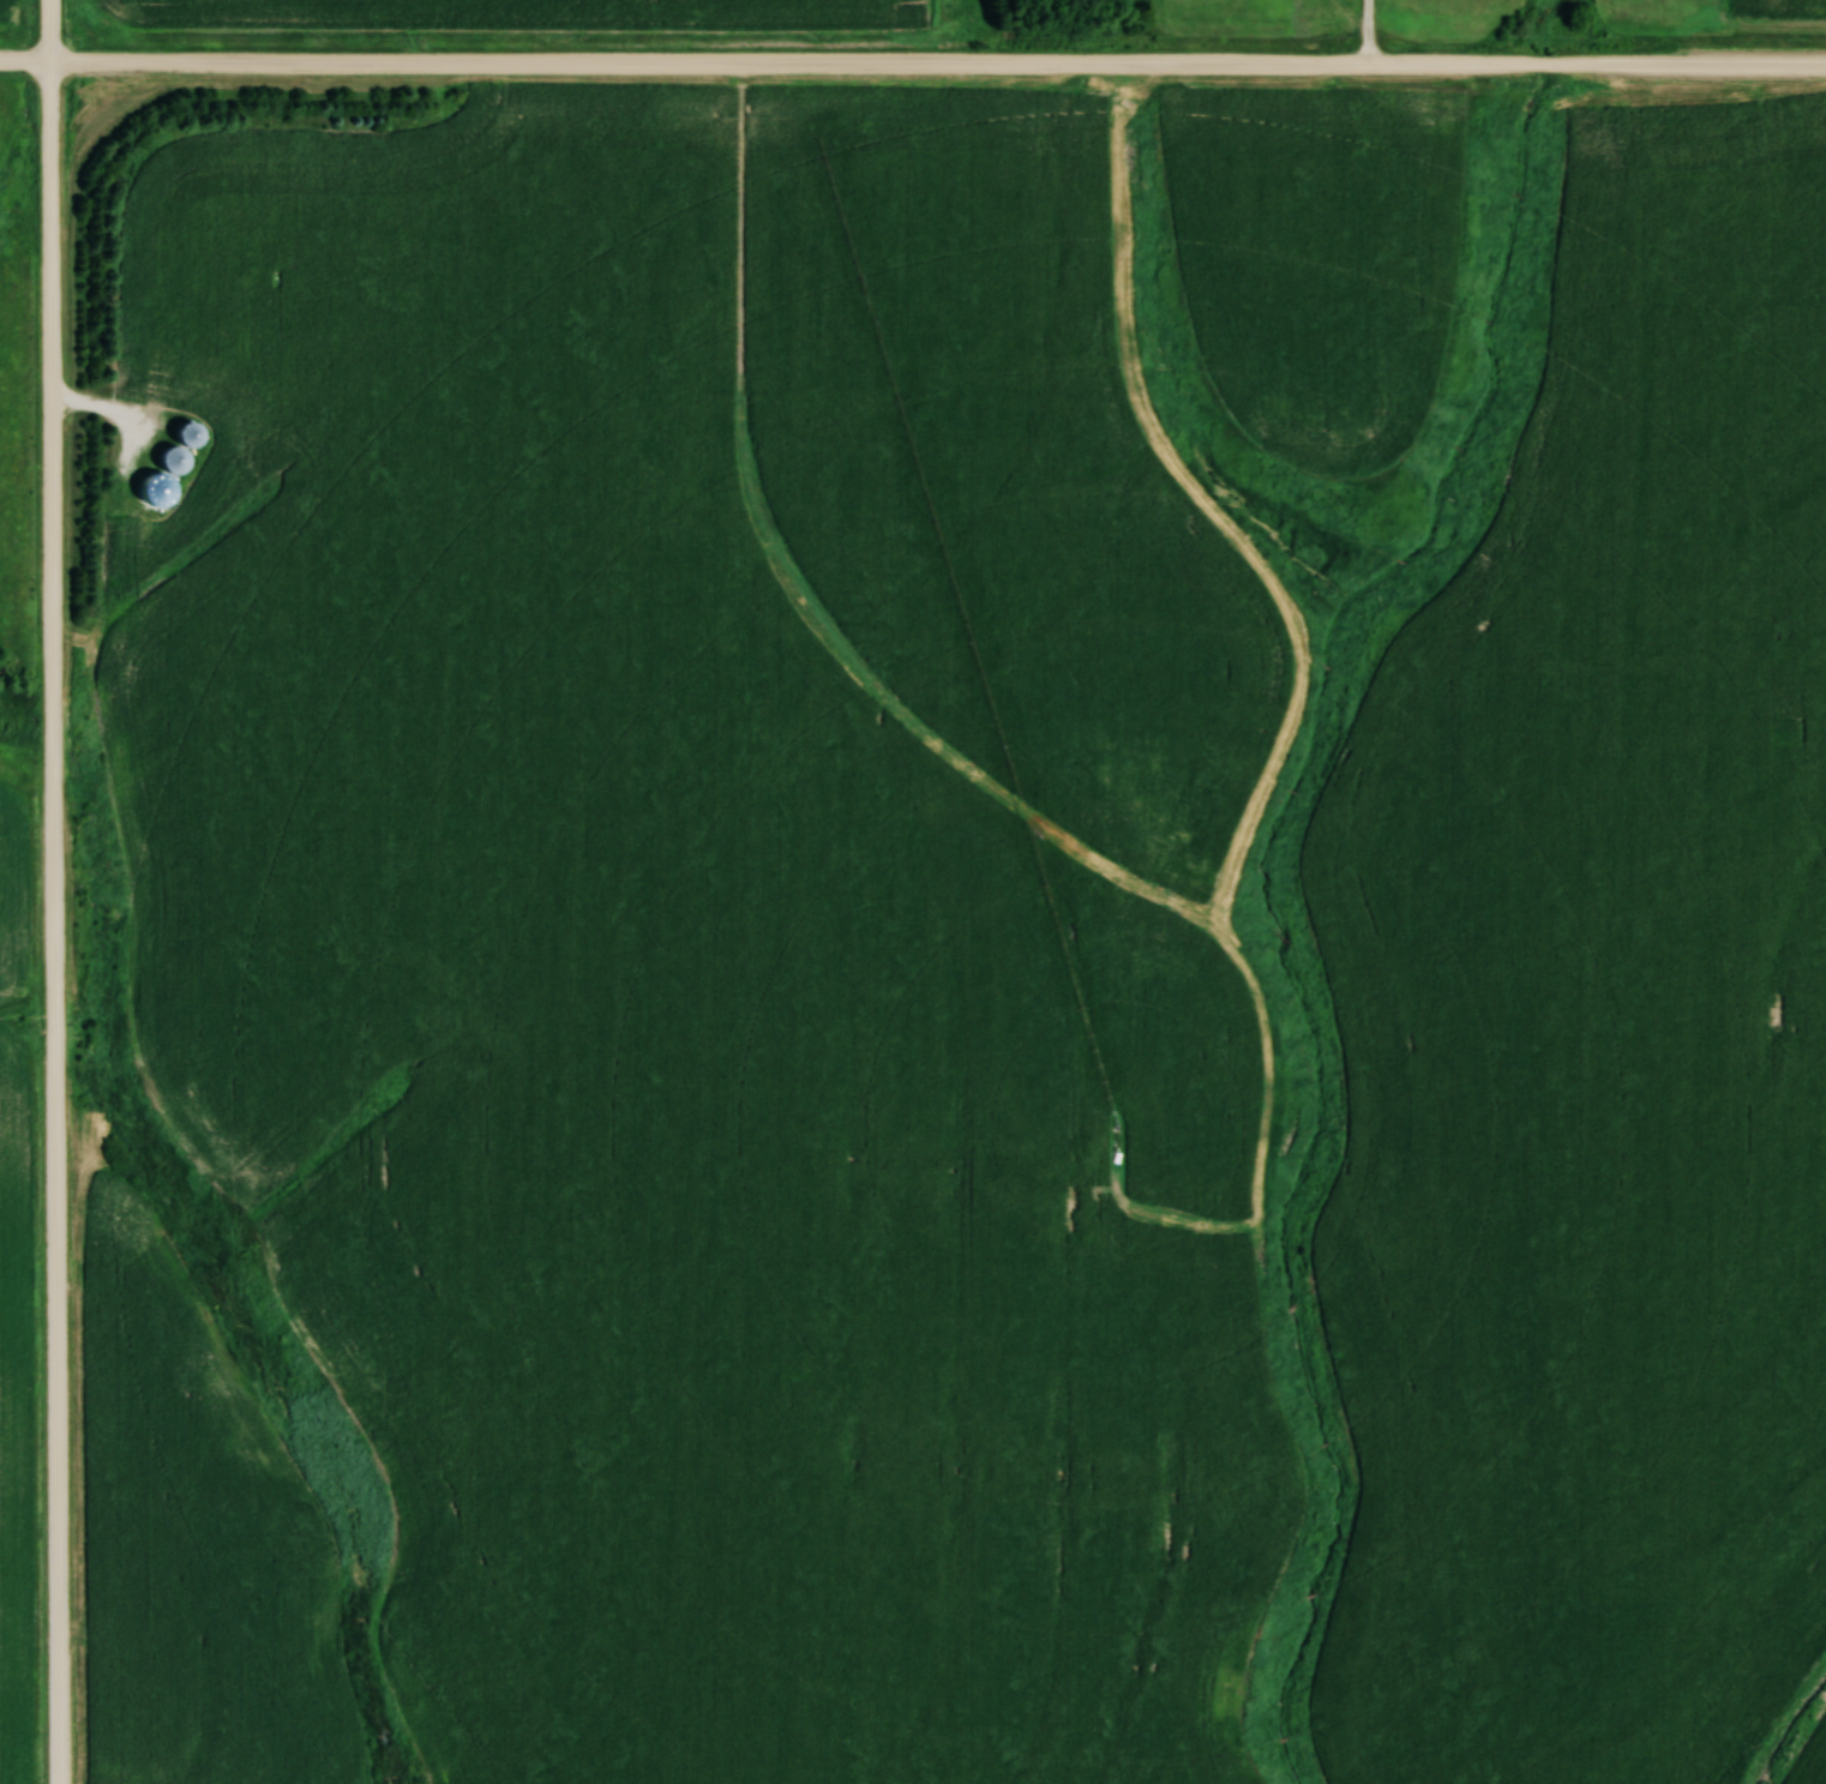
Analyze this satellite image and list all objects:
road: (1370, 35)
road: (913, 67)
road: (56, 891)

